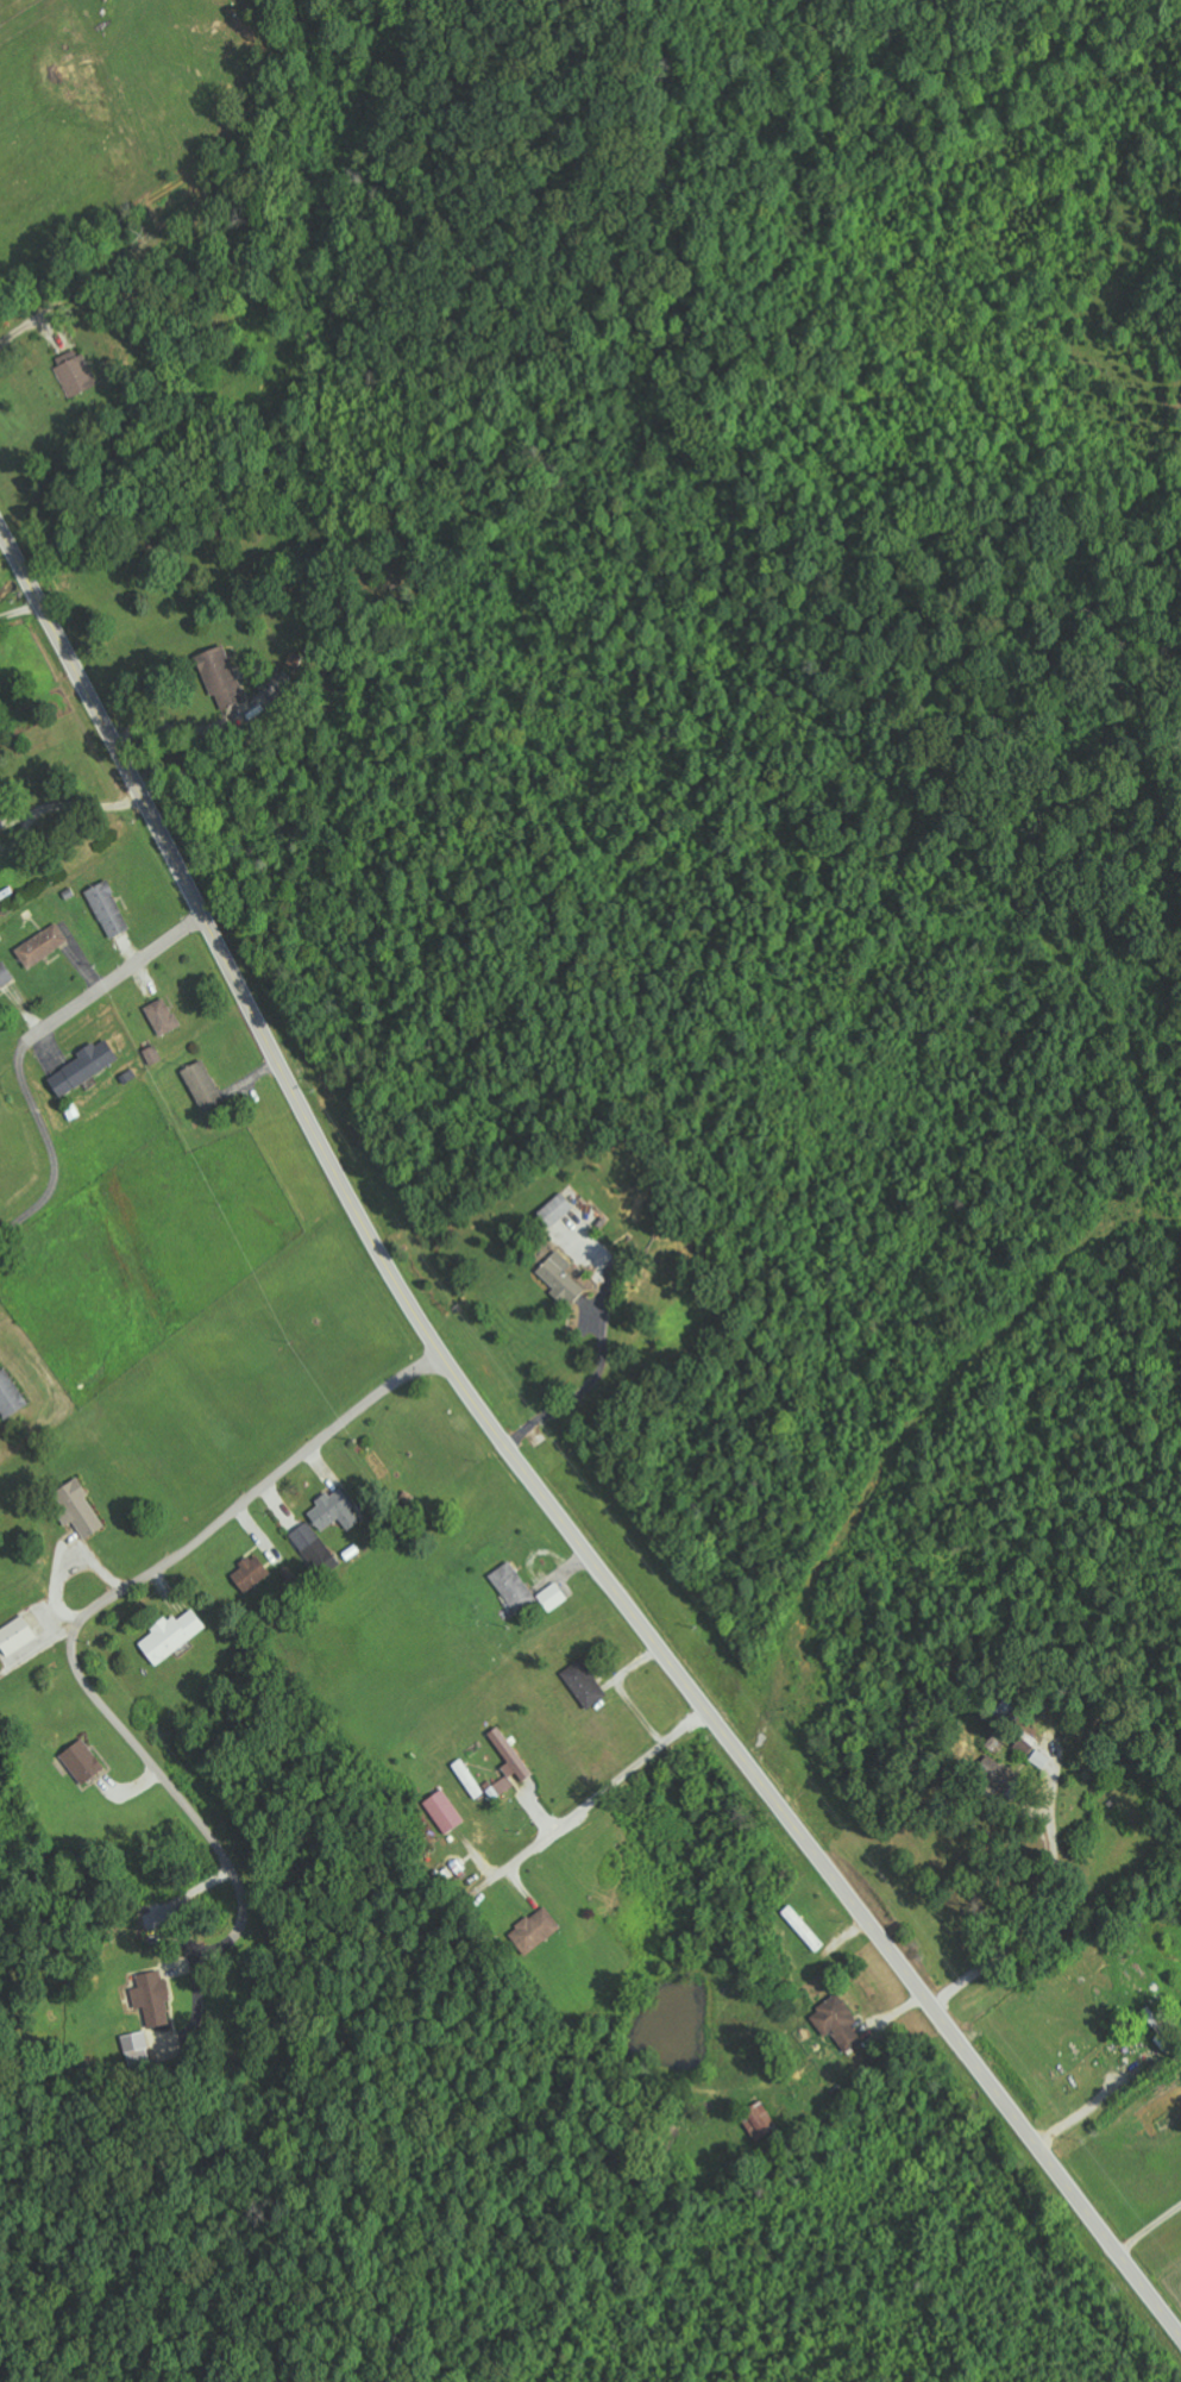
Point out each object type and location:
building: (74, 372)
building: (219, 671)
building: (108, 908)
building: (42, 944)
building: (5, 973)
building: (162, 1015)
road: (50, 1022)
building: (84, 1066)
building: (202, 1084)
building: (555, 1210)
building: (560, 1278)
building: (10, 1394)
road: (527, 1473)
building: (80, 1509)
building: (334, 1511)
building: (310, 1543)
building: (253, 1571)
building: (513, 1586)
building: (552, 1597)
road: (100, 1606)
building: (15, 1635)
building: (171, 1635)
building: (584, 1684)
building: (82, 1761)
building: (509, 1763)
building: (467, 1778)
road: (595, 1801)
building: (444, 1811)
building: (535, 1930)
building: (152, 1999)
building: (837, 2021)
building: (1160, 2027)
building: (136, 2049)
building: (759, 2121)

